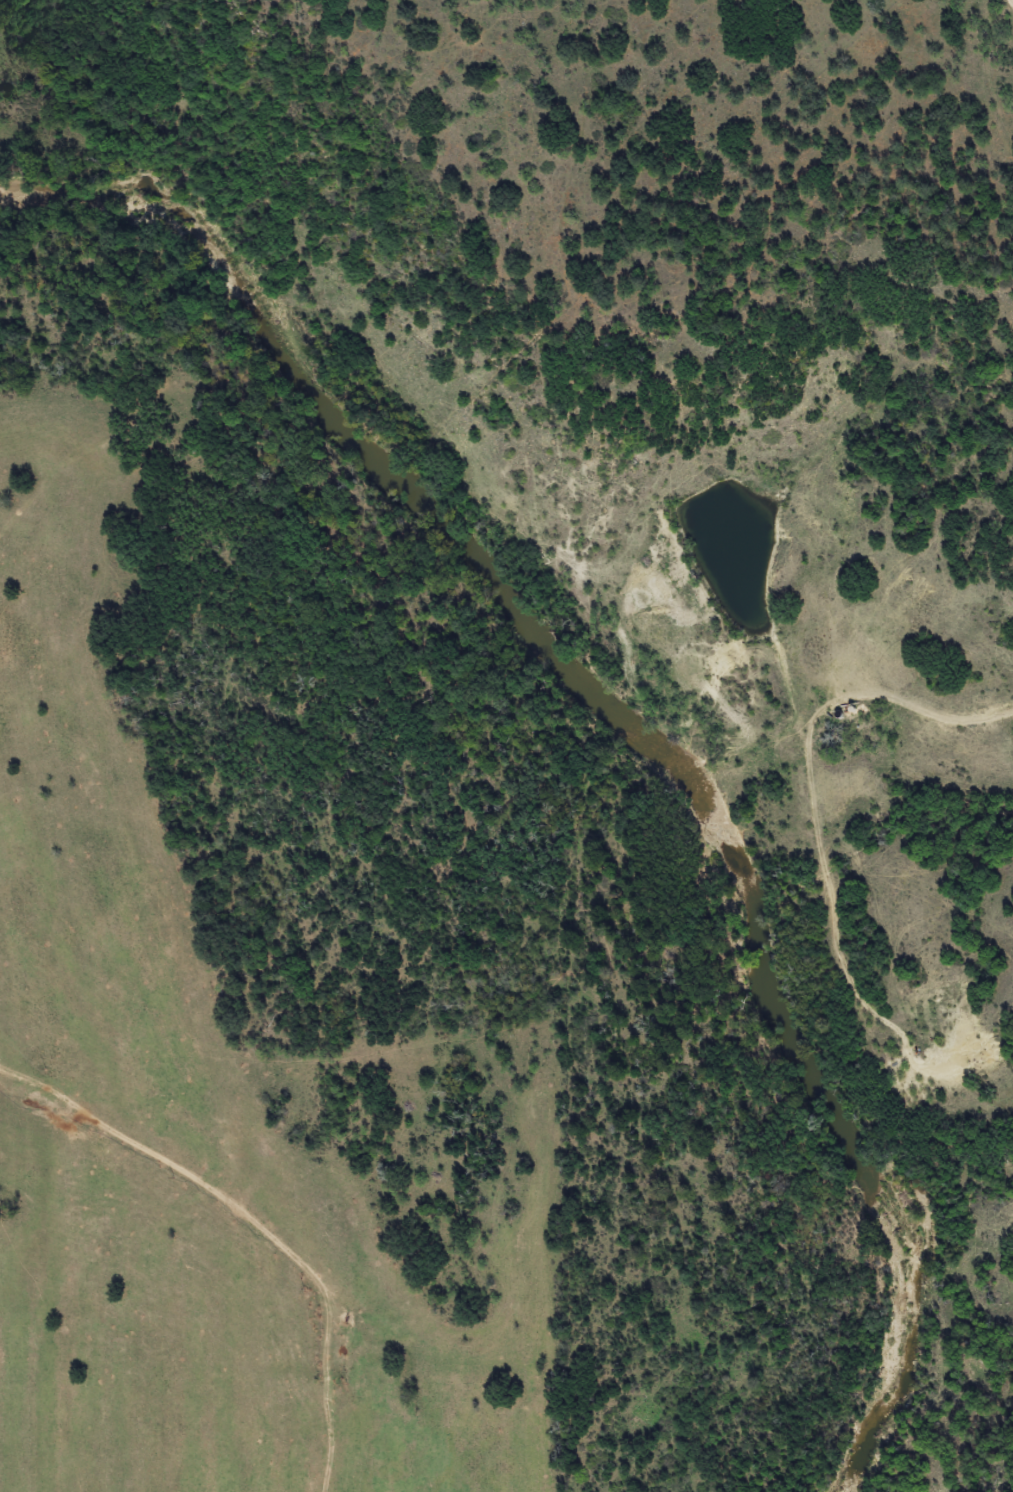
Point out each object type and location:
road: (1000, 14)

